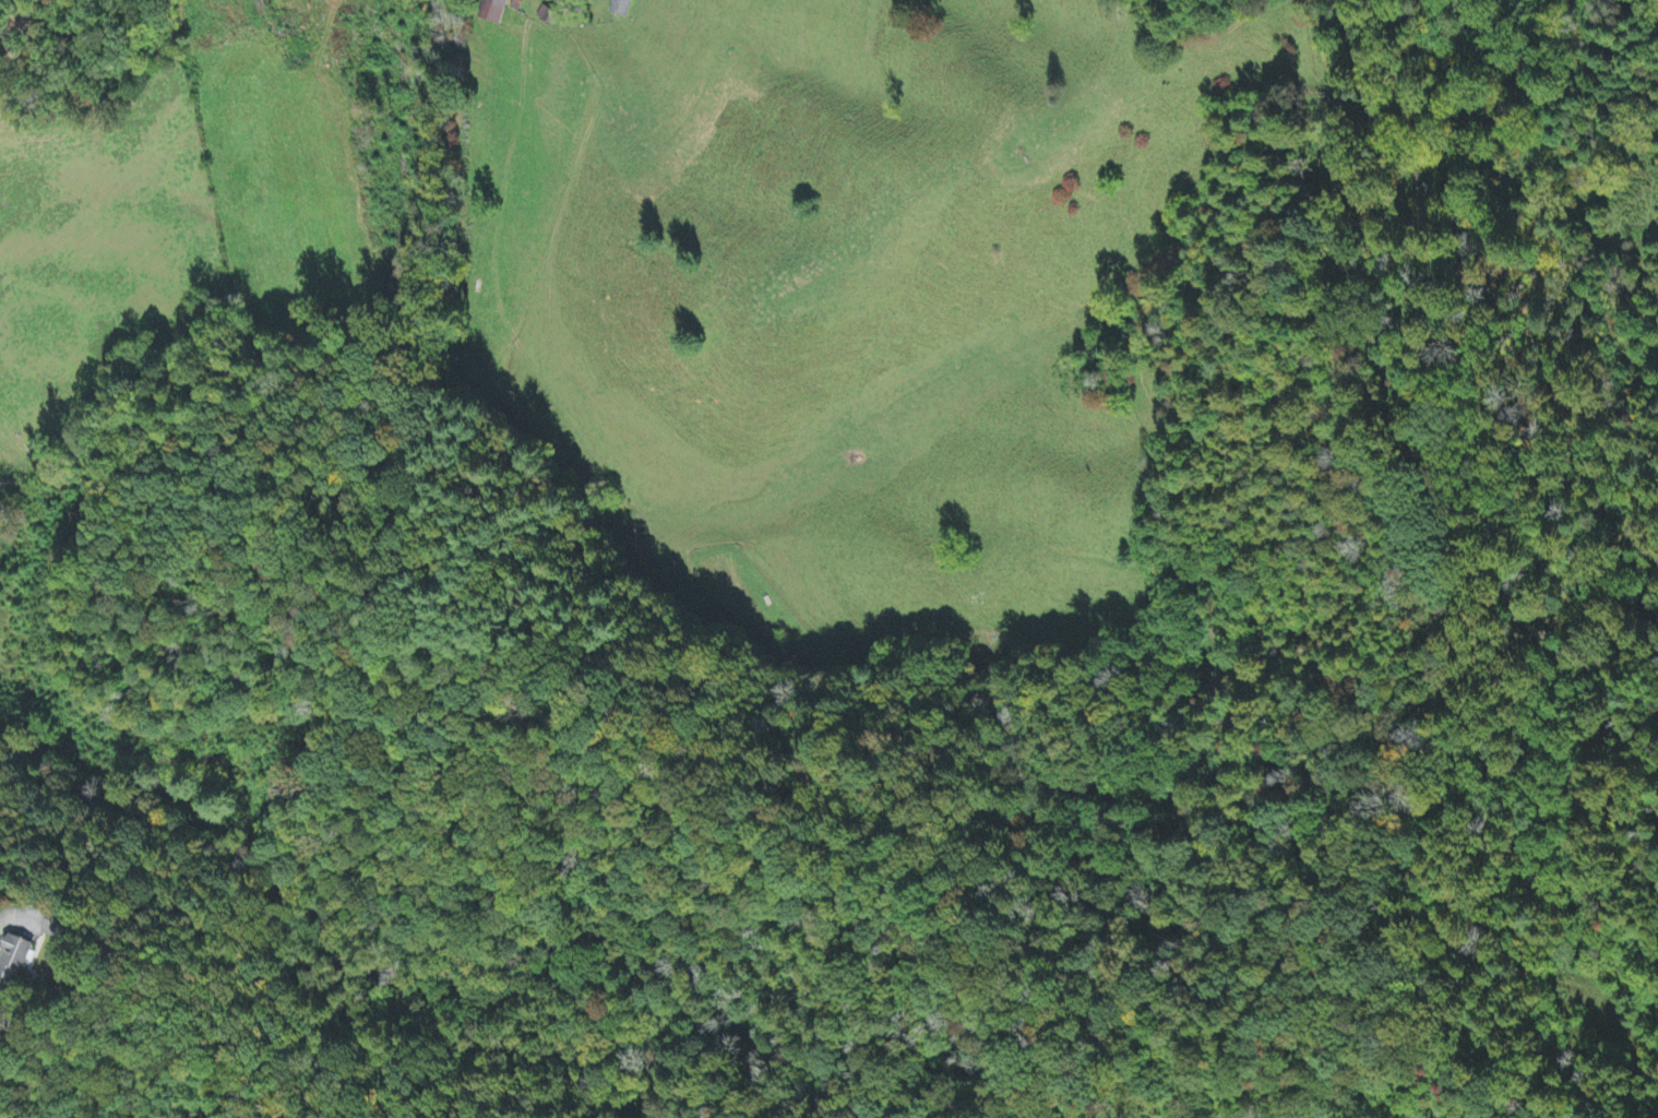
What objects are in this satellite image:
building: (621, 8)
building: (496, 12)
building: (548, 16)
building: (57, 929)
building: (14, 965)

